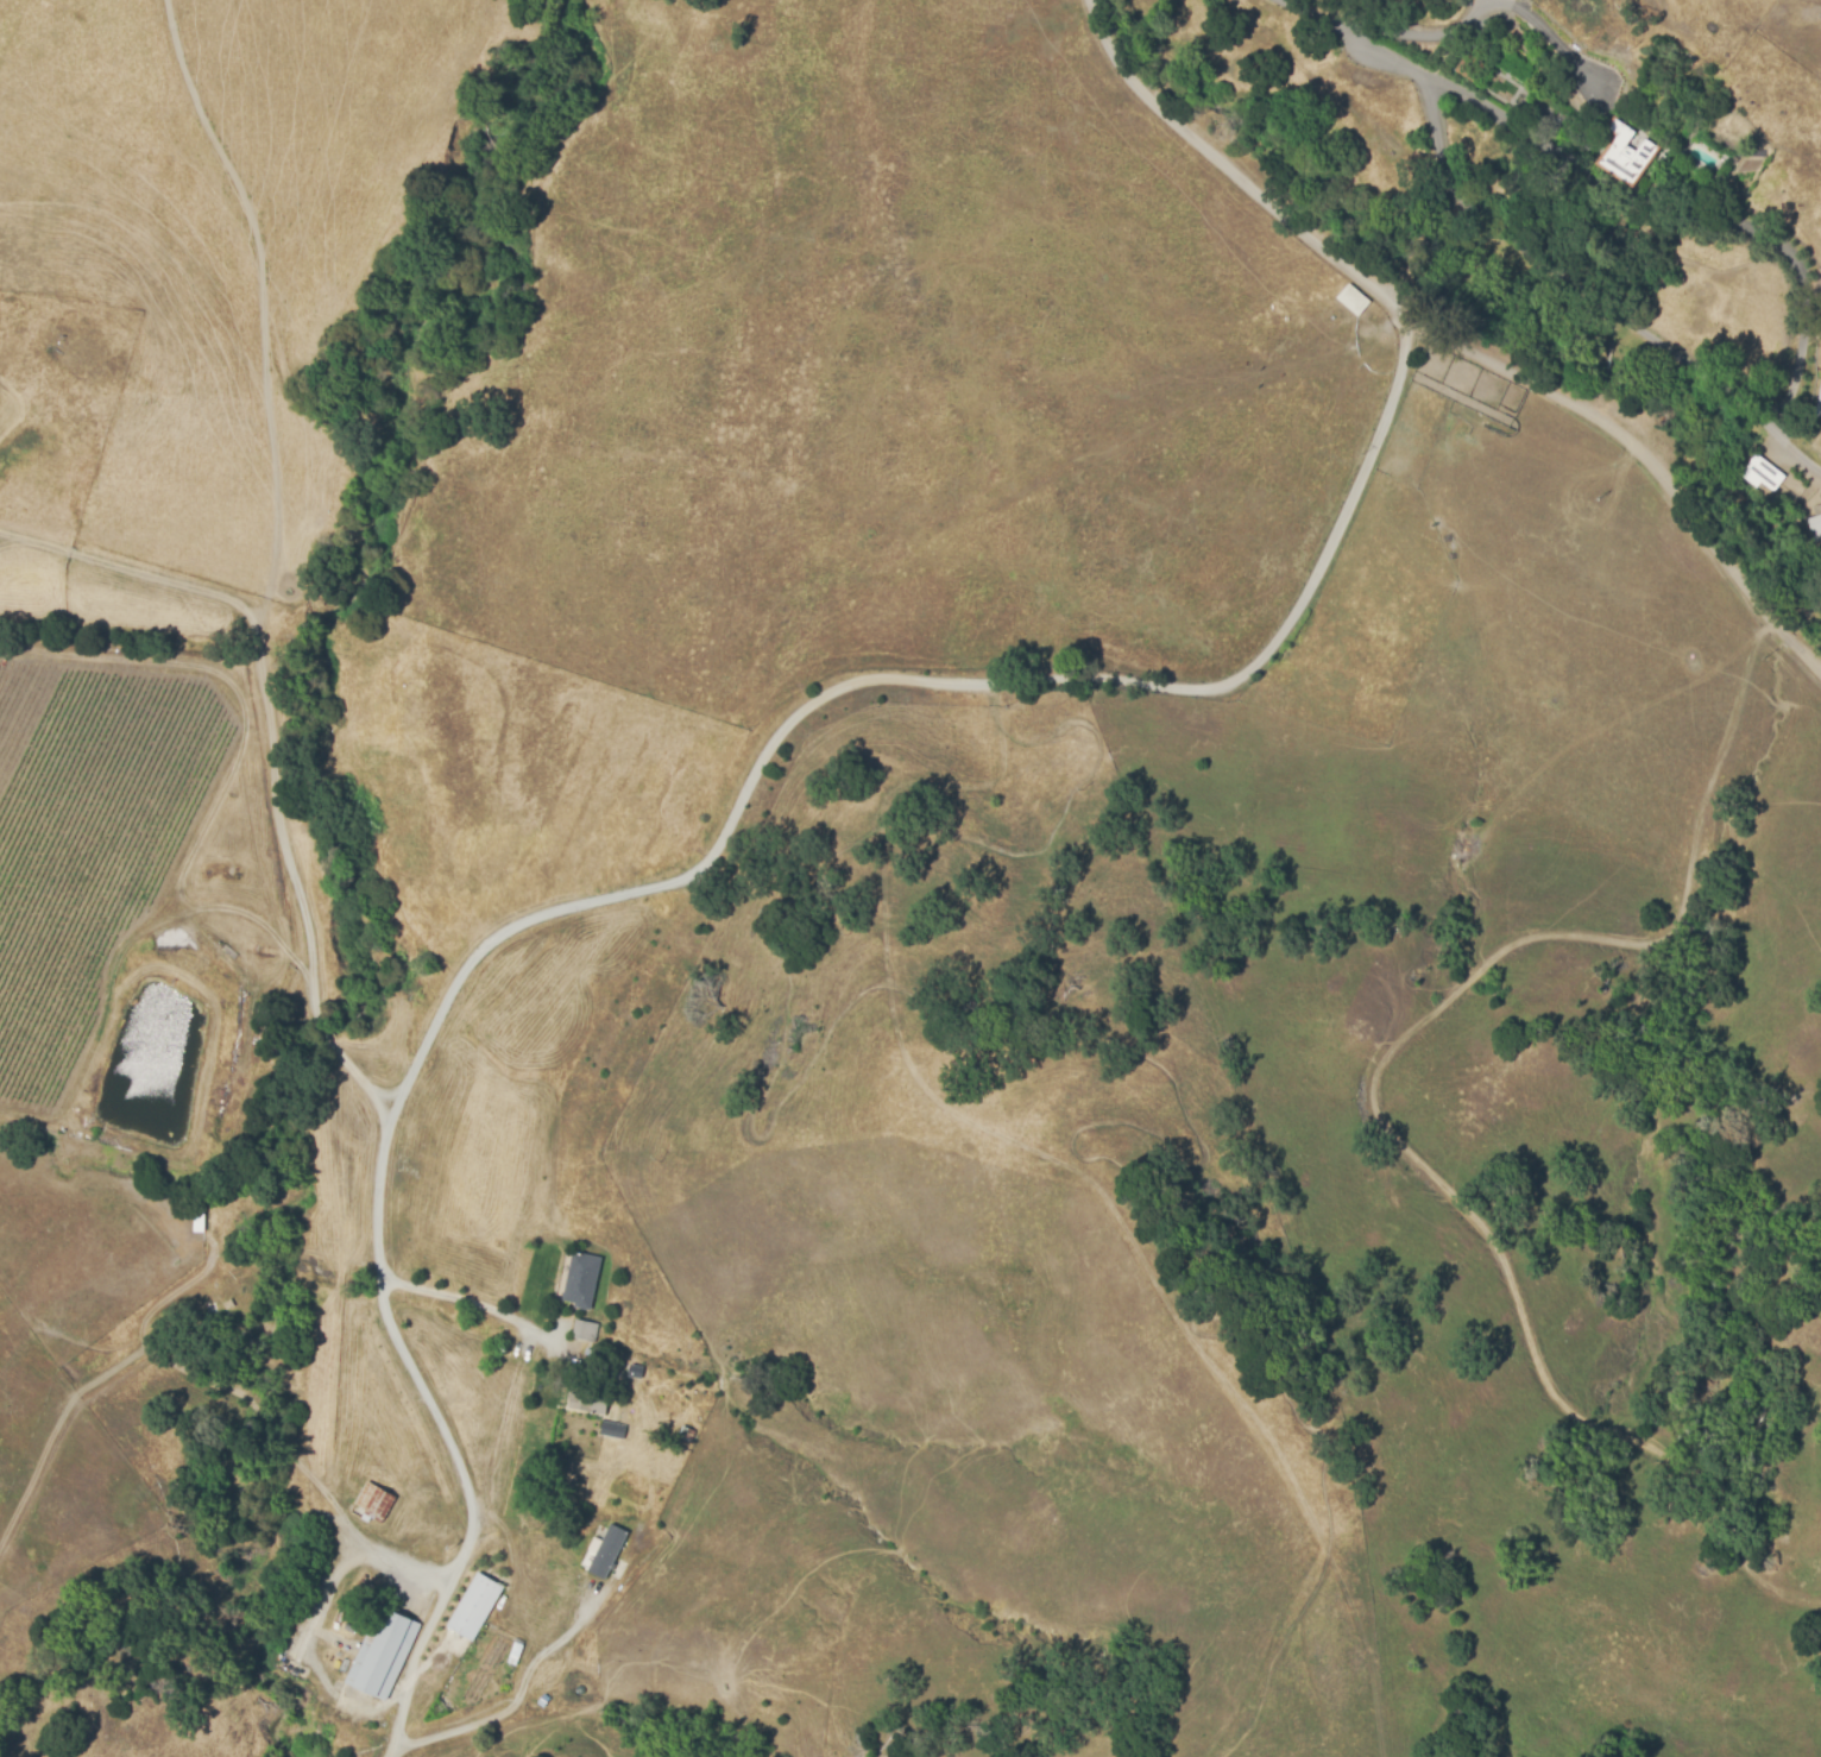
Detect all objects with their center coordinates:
road: (1422, 33)
road: (1548, 33)
road: (1369, 42)
building: (1469, 65)
building: (1625, 153)
road: (1595, 295)
building: (1351, 298)
road: (1450, 345)
building: (1817, 403)
building: (1759, 472)
road: (8, 535)
road: (8, 541)
road: (902, 673)
road: (271, 739)
road: (390, 1091)
road: (379, 1113)
building: (581, 1279)
road: (470, 1301)
building: (585, 1329)
building: (588, 1404)
road: (447, 1446)
building: (605, 1550)
building: (475, 1605)
building: (383, 1656)
road: (522, 1695)

